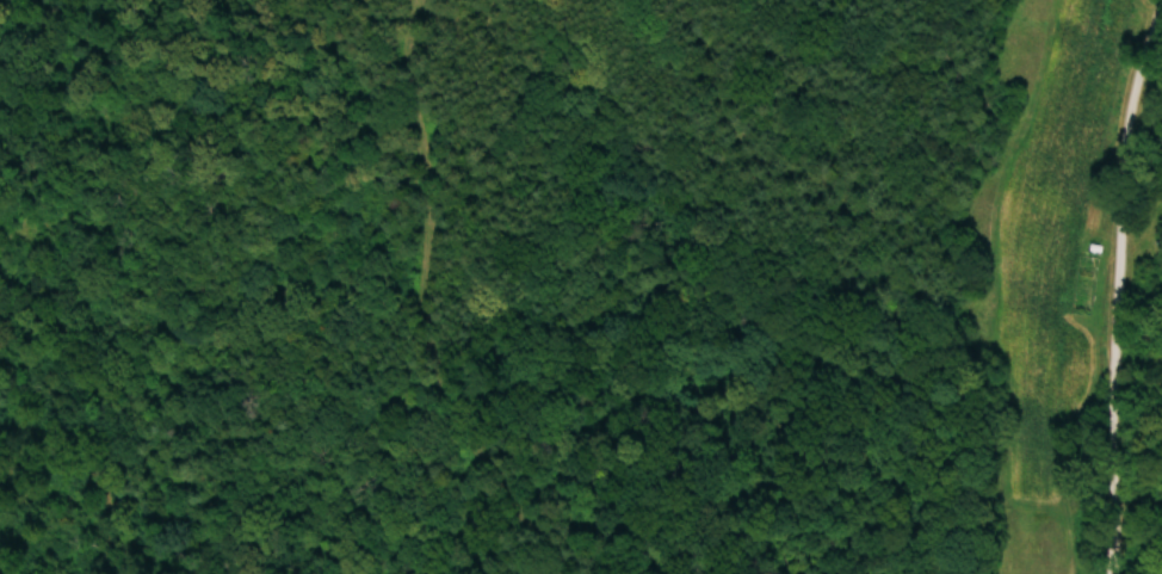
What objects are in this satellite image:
road: (1111, 283)

